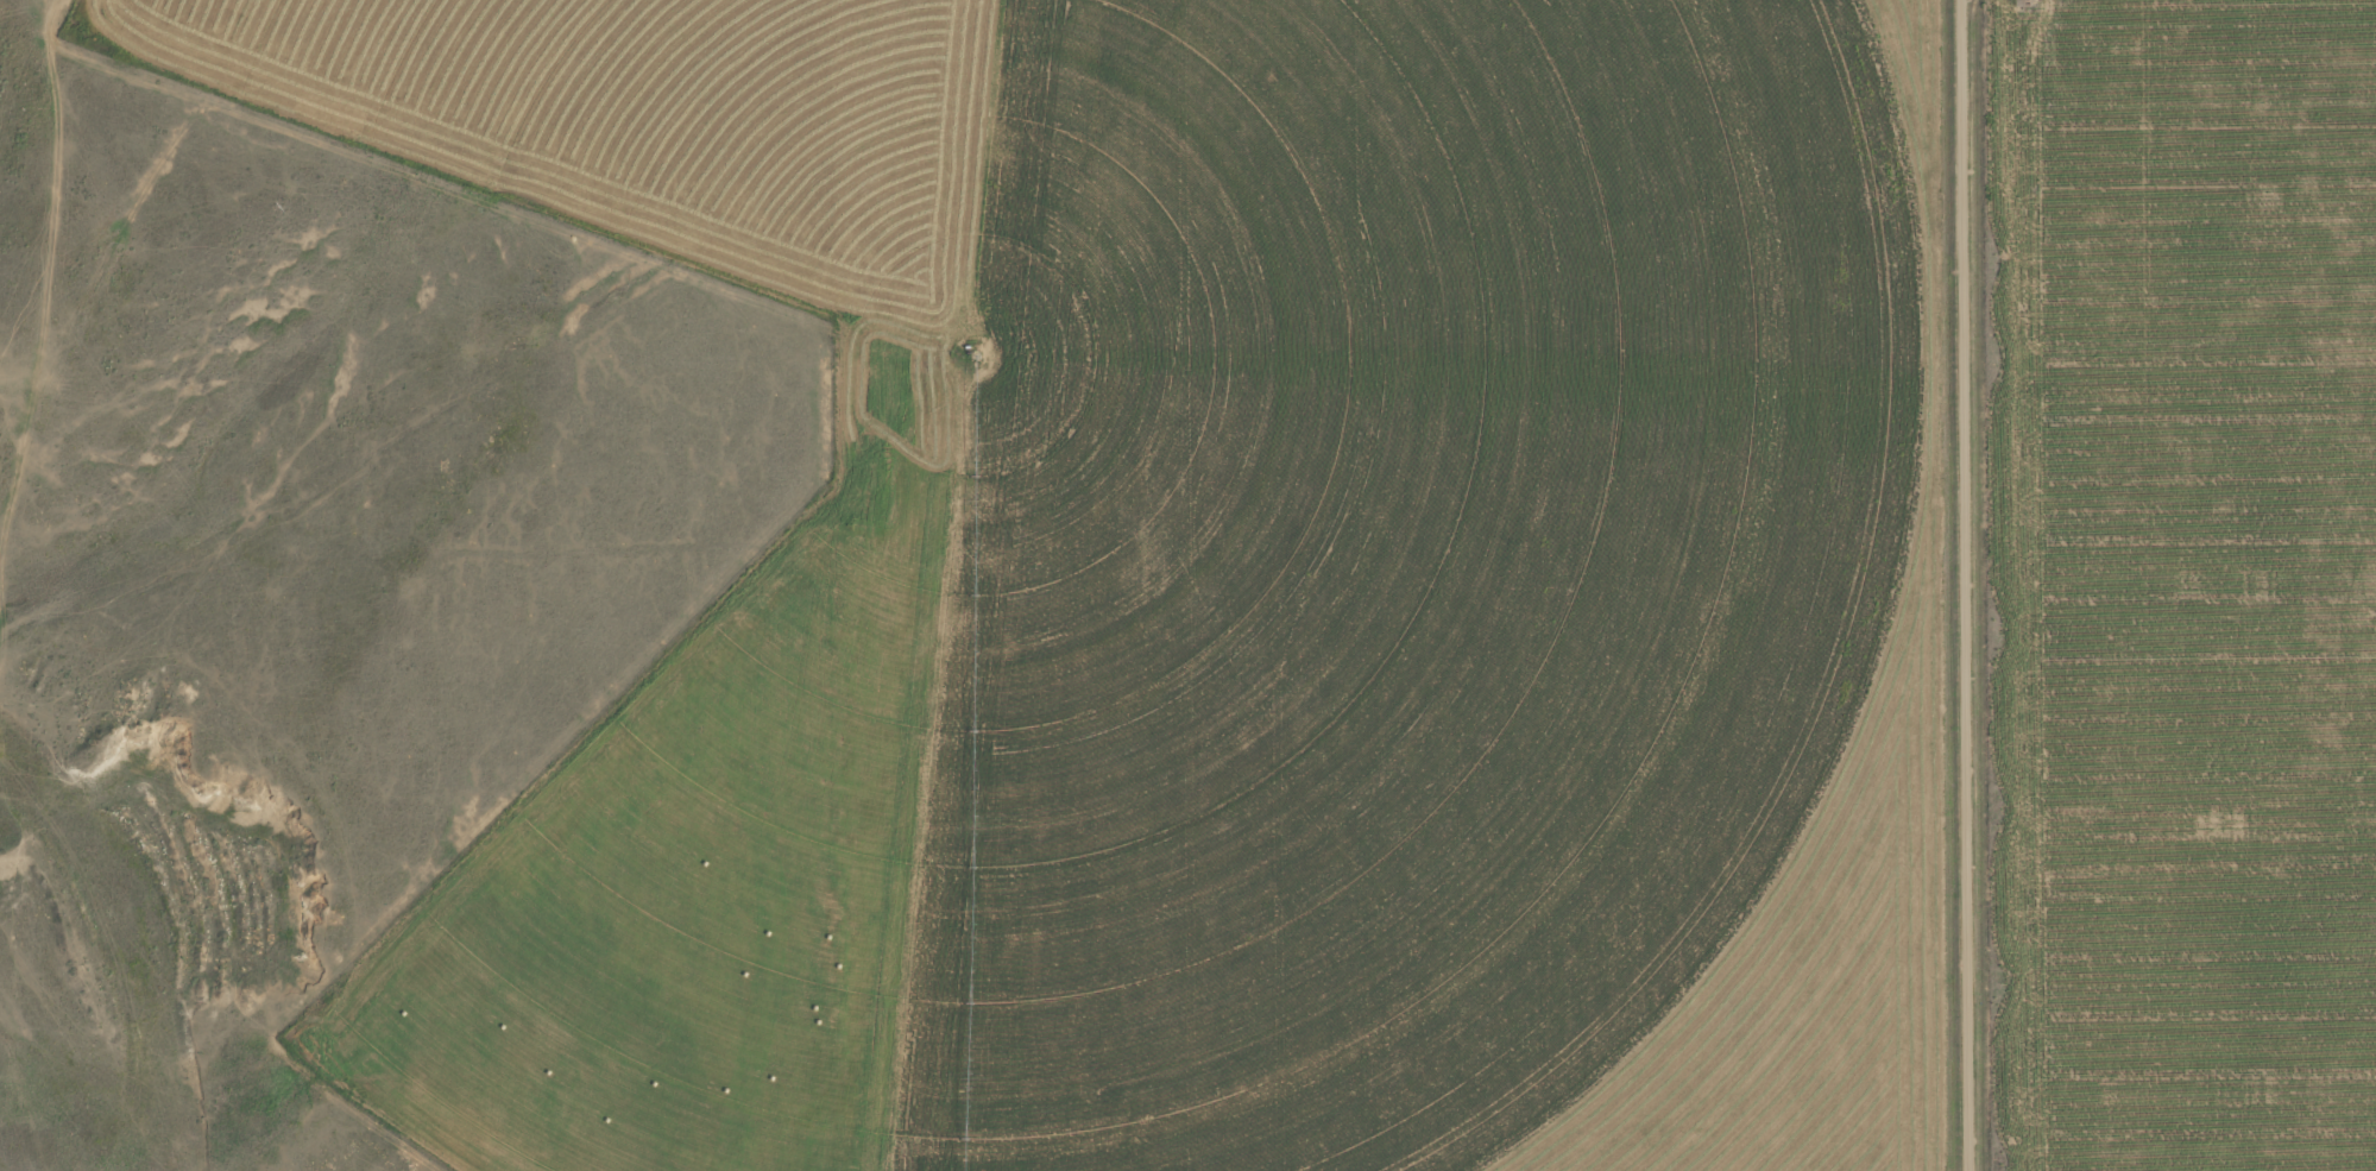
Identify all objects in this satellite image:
road: (1970, 585)
dam: (2, 862)

